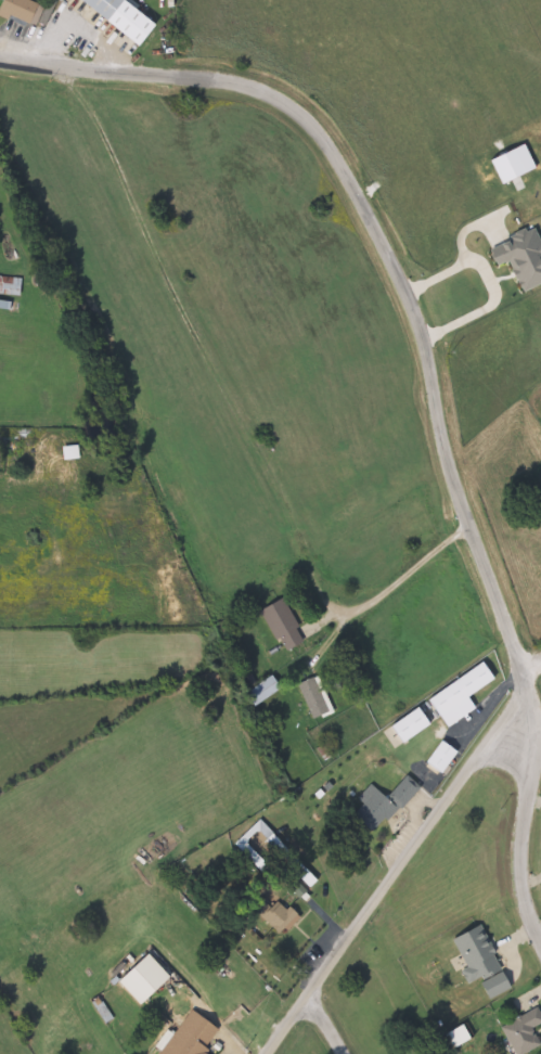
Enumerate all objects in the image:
building: (26, 11)
building: (118, 17)
road: (381, 249)
road: (485, 280)
building: (12, 285)
road: (516, 436)
building: (75, 453)
road: (405, 569)
building: (286, 625)
road: (540, 657)
road: (540, 658)
building: (464, 694)
building: (319, 698)
building: (445, 756)
building: (384, 804)
road: (521, 821)
building: (289, 848)
building: (286, 854)
road: (401, 857)
building: (284, 910)
building: (479, 954)
building: (24, 976)
building: (149, 980)
building: (499, 986)
road: (319, 1025)
building: (526, 1032)
building: (195, 1036)

